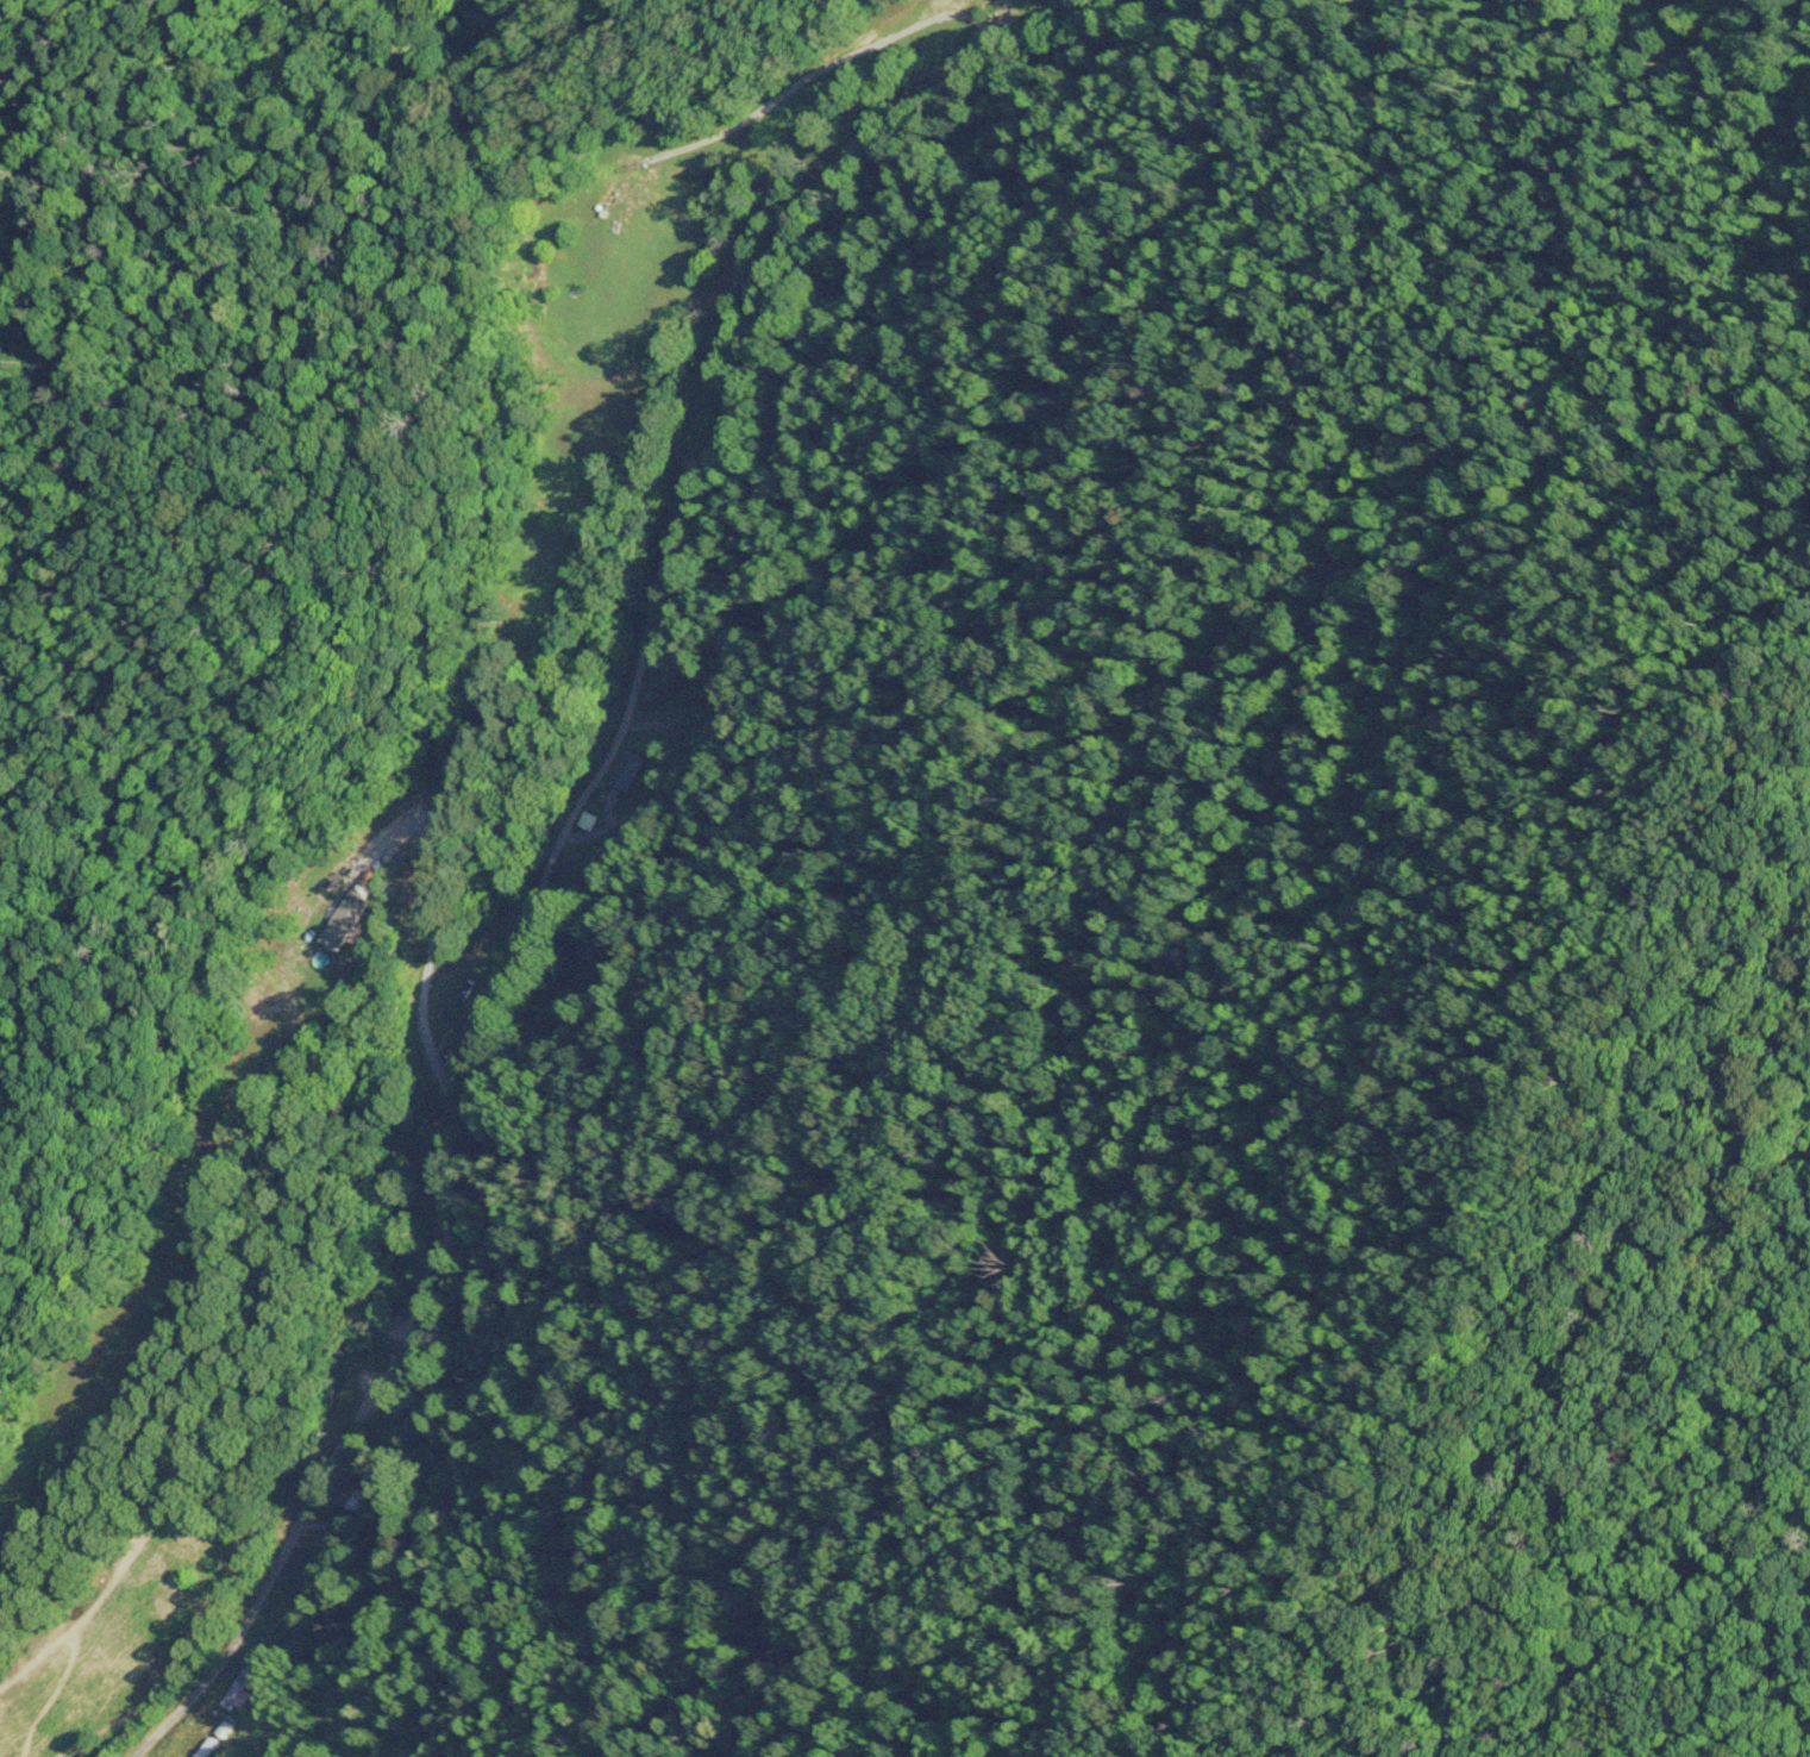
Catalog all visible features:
road: (832, 52)
building: (628, 219)
building: (694, 712)
building: (630, 770)
road: (501, 850)
building: (474, 1002)
building: (355, 1500)

